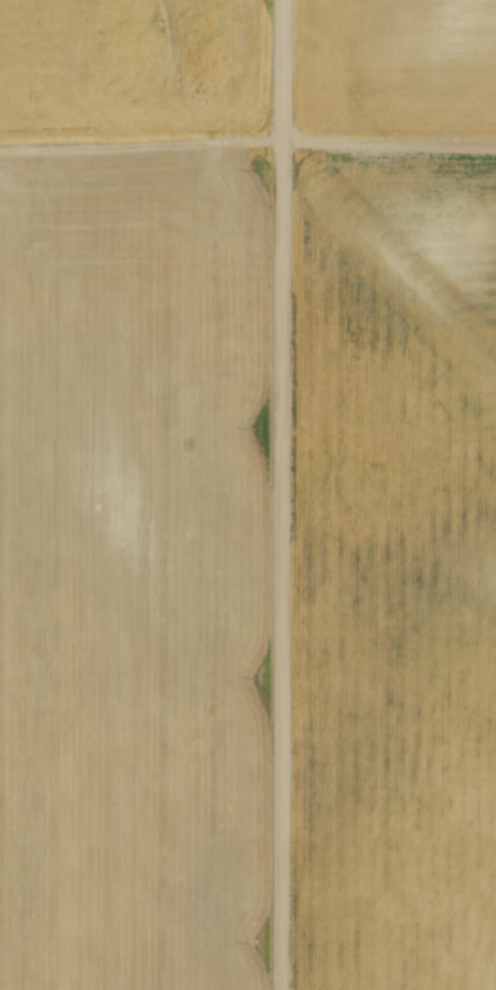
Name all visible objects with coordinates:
road: (247, 134)
crop: (132, 495)
road: (282, 495)
crop: (394, 497)

